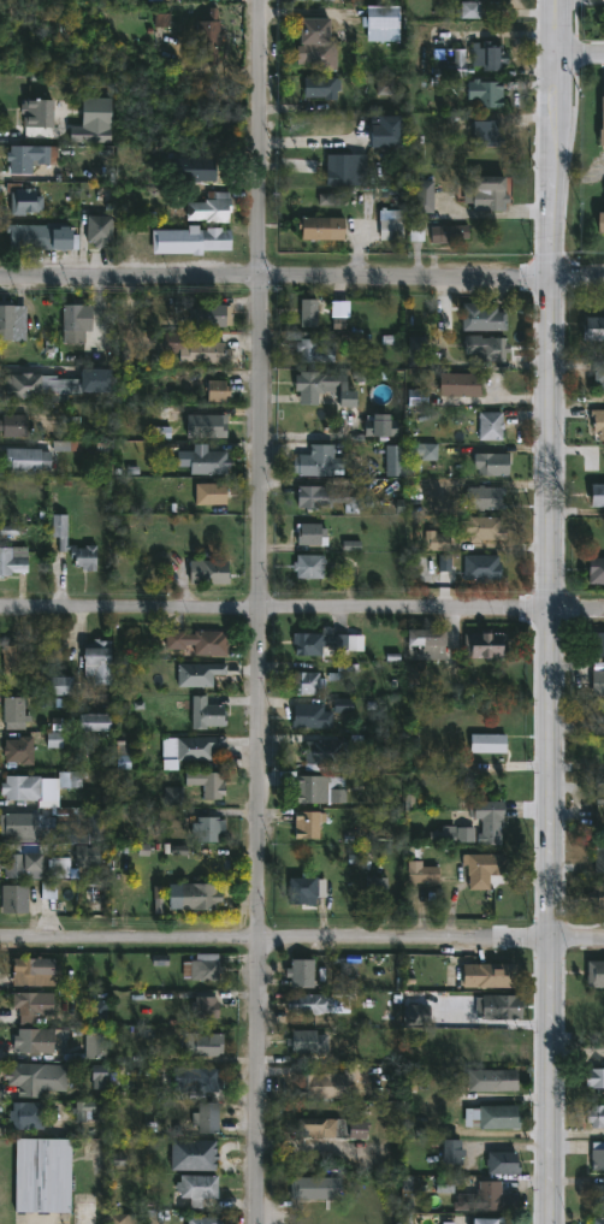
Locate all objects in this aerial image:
building: (315, 0)
building: (379, 23)
building: (207, 35)
building: (314, 43)
road: (582, 52)
building: (485, 55)
building: (448, 61)
building: (320, 87)
building: (484, 93)
building: (32, 112)
building: (602, 124)
building: (485, 134)
building: (416, 152)
building: (26, 158)
building: (345, 171)
building: (486, 194)
building: (422, 196)
building: (20, 200)
building: (208, 208)
building: (602, 223)
building: (314, 227)
building: (96, 231)
building: (446, 233)
building: (39, 238)
building: (191, 241)
road: (302, 282)
building: (304, 313)
building: (208, 315)
building: (480, 318)
building: (11, 323)
building: (69, 324)
building: (592, 329)
building: (308, 347)
building: (484, 348)
building: (194, 350)
building: (414, 351)
building: (598, 374)
building: (52, 385)
building: (457, 385)
building: (322, 386)
building: (218, 392)
building: (597, 422)
building: (374, 425)
building: (12, 426)
building: (206, 426)
building: (488, 426)
building: (421, 451)
building: (318, 460)
building: (24, 461)
building: (205, 462)
building: (488, 463)
building: (393, 468)
building: (209, 493)
building: (596, 495)
building: (325, 498)
building: (482, 498)
building: (481, 528)
building: (309, 534)
building: (434, 542)
building: (71, 546)
building: (12, 561)
building: (307, 567)
building: (480, 569)
building: (596, 570)
building: (205, 572)
road: (302, 610)
road: (266, 611)
road: (550, 611)
building: (196, 641)
building: (324, 644)
building: (424, 645)
building: (486, 645)
building: (596, 646)
building: (16, 658)
building: (95, 662)
building: (196, 674)
building: (306, 682)
building: (597, 682)
building: (54, 686)
building: (11, 711)
building: (203, 711)
building: (309, 715)
building: (89, 719)
building: (480, 735)
building: (195, 746)
building: (18, 749)
building: (325, 751)
building: (70, 781)
building: (206, 781)
building: (19, 786)
building: (313, 786)
building: (598, 790)
building: (487, 821)
building: (96, 822)
building: (306, 823)
building: (22, 827)
building: (207, 827)
building: (457, 834)
building: (598, 855)
building: (83, 858)
building: (18, 862)
building: (481, 863)
building: (420, 873)
building: (373, 887)
building: (301, 889)
building: (197, 895)
building: (596, 895)
building: (13, 898)
road: (301, 941)
building: (201, 966)
building: (29, 971)
building: (300, 972)
building: (594, 974)
building: (486, 975)
building: (26, 1001)
building: (313, 1003)
building: (505, 1006)
building: (202, 1010)
building: (414, 1011)
building: (307, 1041)
building: (35, 1042)
building: (202, 1043)
building: (593, 1076)
building: (28, 1077)
building: (201, 1078)
building: (501, 1080)
building: (315, 1086)
building: (24, 1114)
building: (594, 1114)
building: (205, 1117)
building: (490, 1117)
building: (331, 1128)
building: (449, 1151)
building: (190, 1154)
building: (597, 1155)
building: (501, 1161)
building: (40, 1175)
building: (313, 1187)
building: (195, 1188)
building: (597, 1195)
building: (482, 1198)
building: (83, 1214)
building: (120, 1218)
building: (202, 1220)
building: (492, 1220)
building: (596, 1220)

